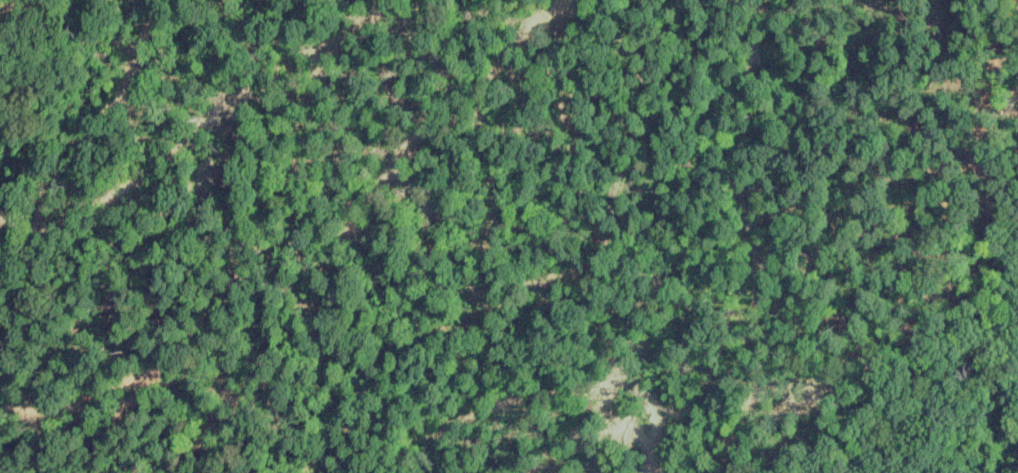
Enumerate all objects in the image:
road: (919, 372)

